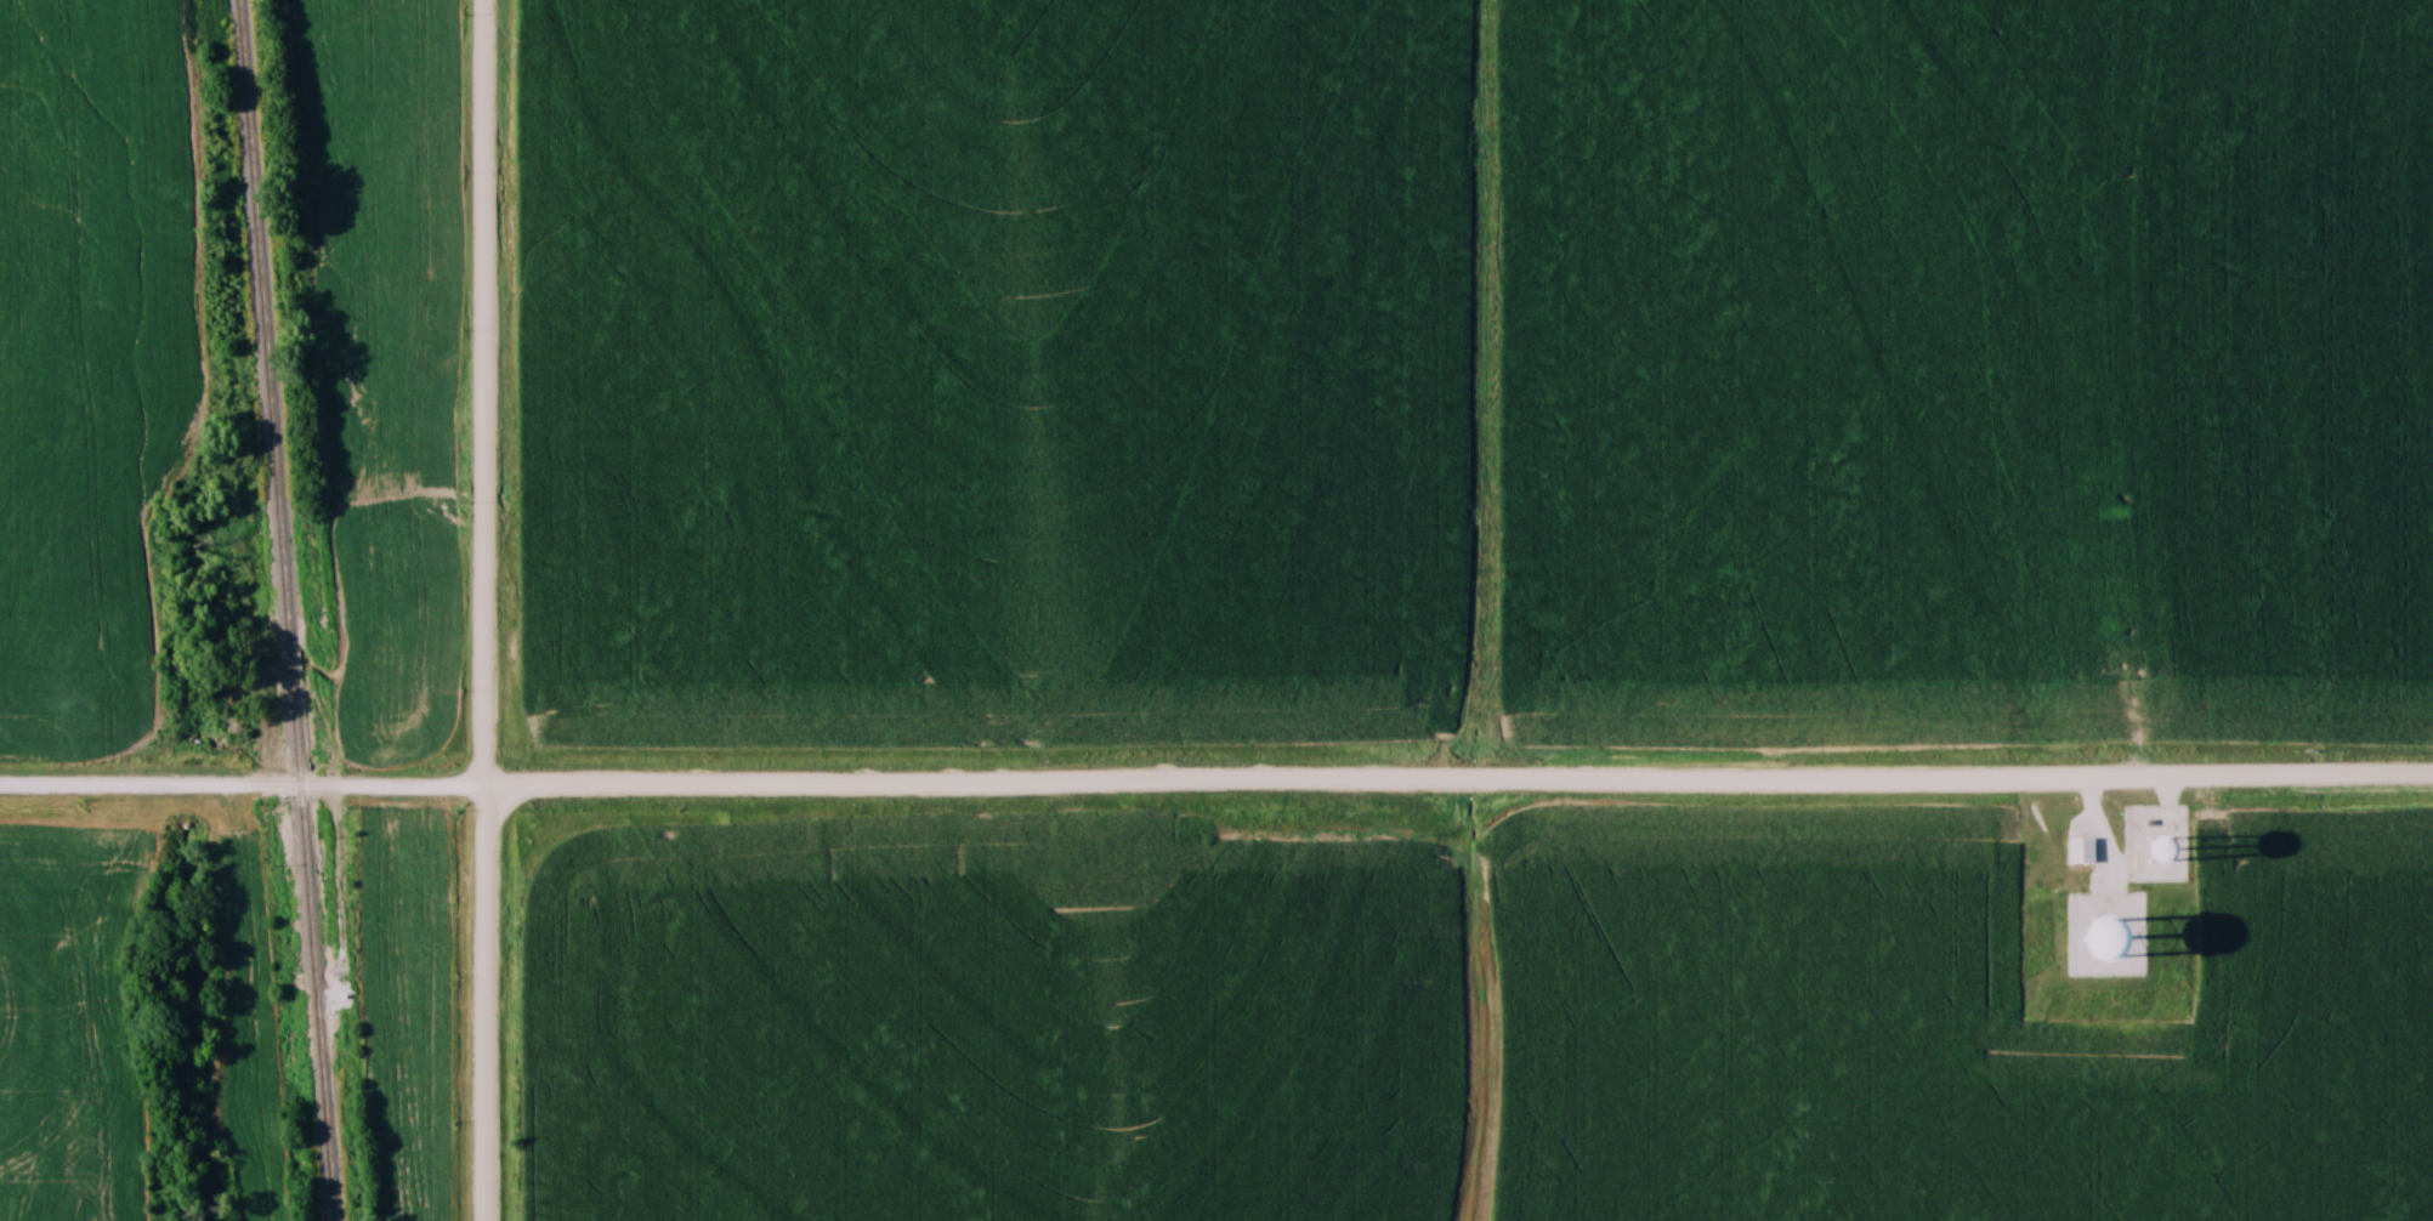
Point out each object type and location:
railway: (285, 610)
road: (483, 610)
road: (1216, 782)
building: (2080, 851)
water tower: (2157, 853)
building: (2116, 931)
water tower: (2106, 942)

